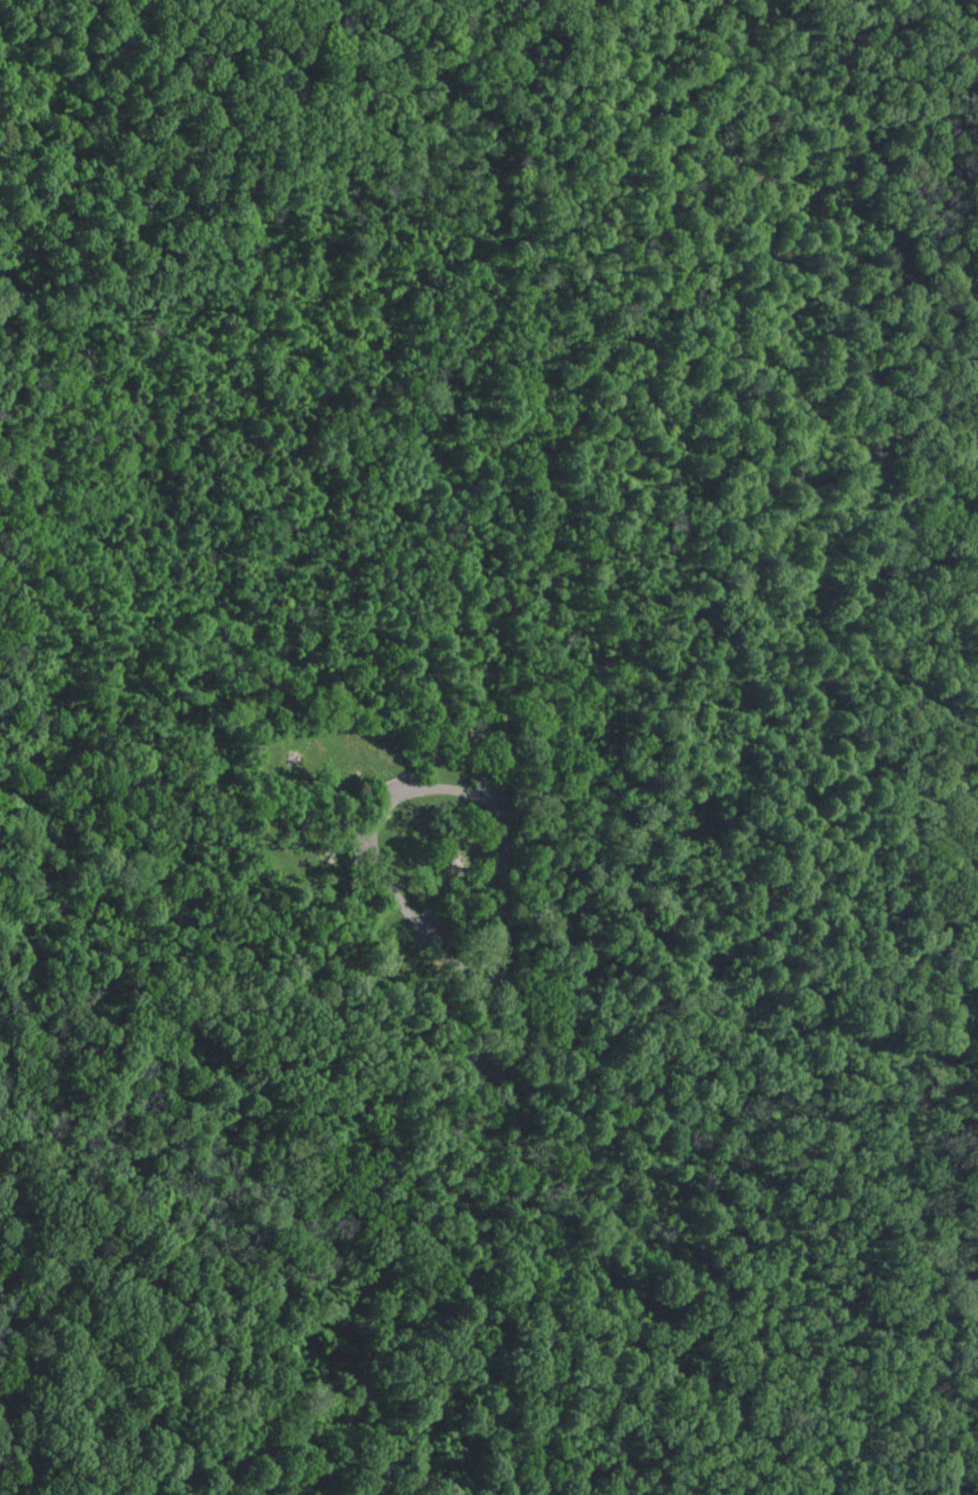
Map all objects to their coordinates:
road: (683, 684)
road: (970, 772)
parking lot: (399, 781)
road: (403, 786)
parking lot: (488, 792)
parking lot: (365, 846)
parking lot: (424, 919)
road: (168, 968)
parking lot: (491, 1057)
road: (934, 1181)
road: (526, 1242)
road: (6, 1375)

